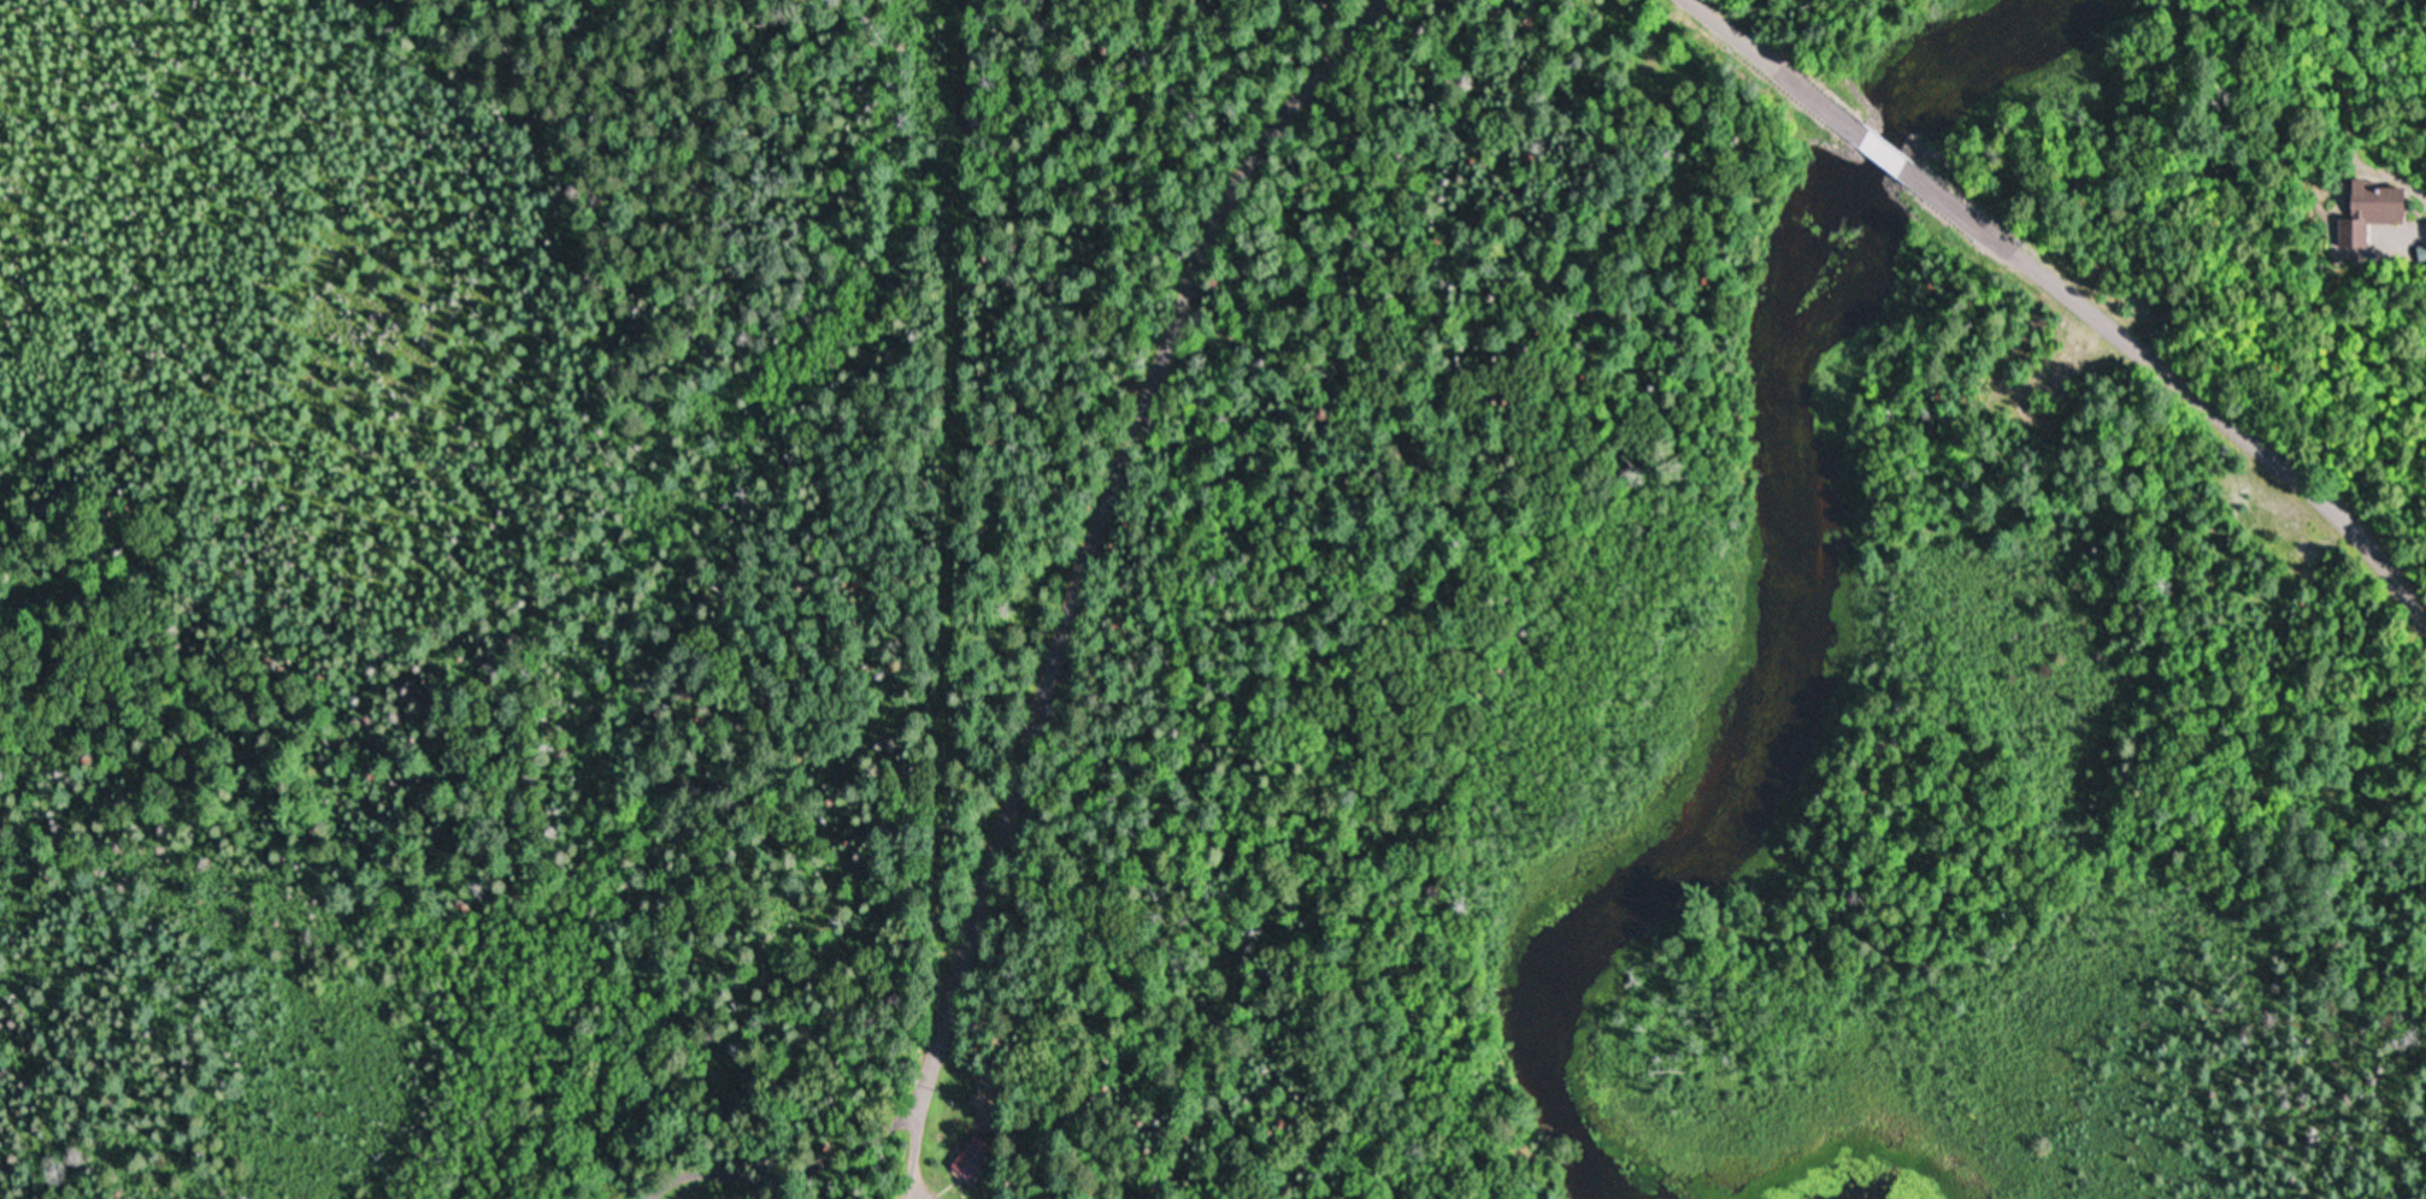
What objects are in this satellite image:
road: (1766, 67)
road: (1880, 149)
building: (2383, 207)
road: (2186, 414)
river: (1776, 604)
road: (1052, 636)
road: (1034, 964)
building: (976, 1157)
road: (1130, 1174)
road: (1486, 1193)

